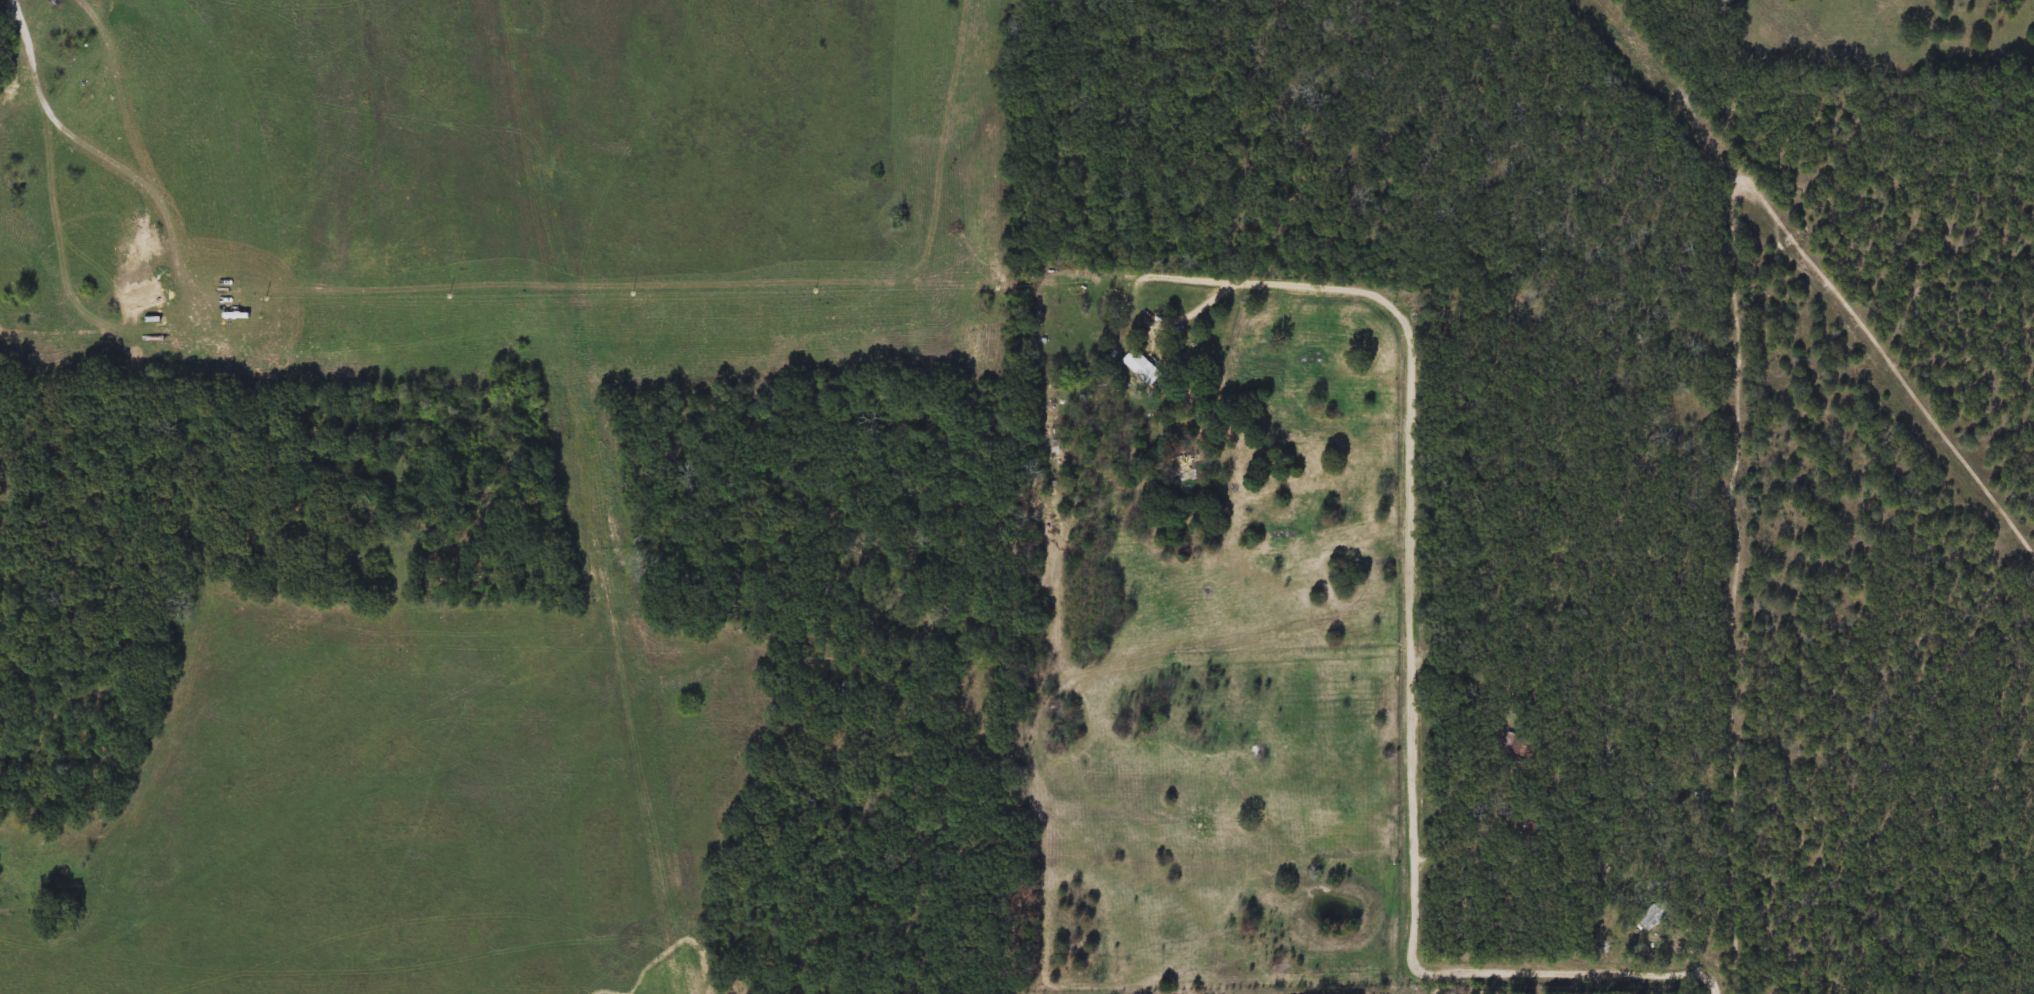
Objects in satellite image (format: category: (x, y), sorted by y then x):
building: (1142, 367)
building: (1186, 466)
road: (1413, 646)
building: (1517, 743)
building: (1530, 836)
building: (1654, 913)

